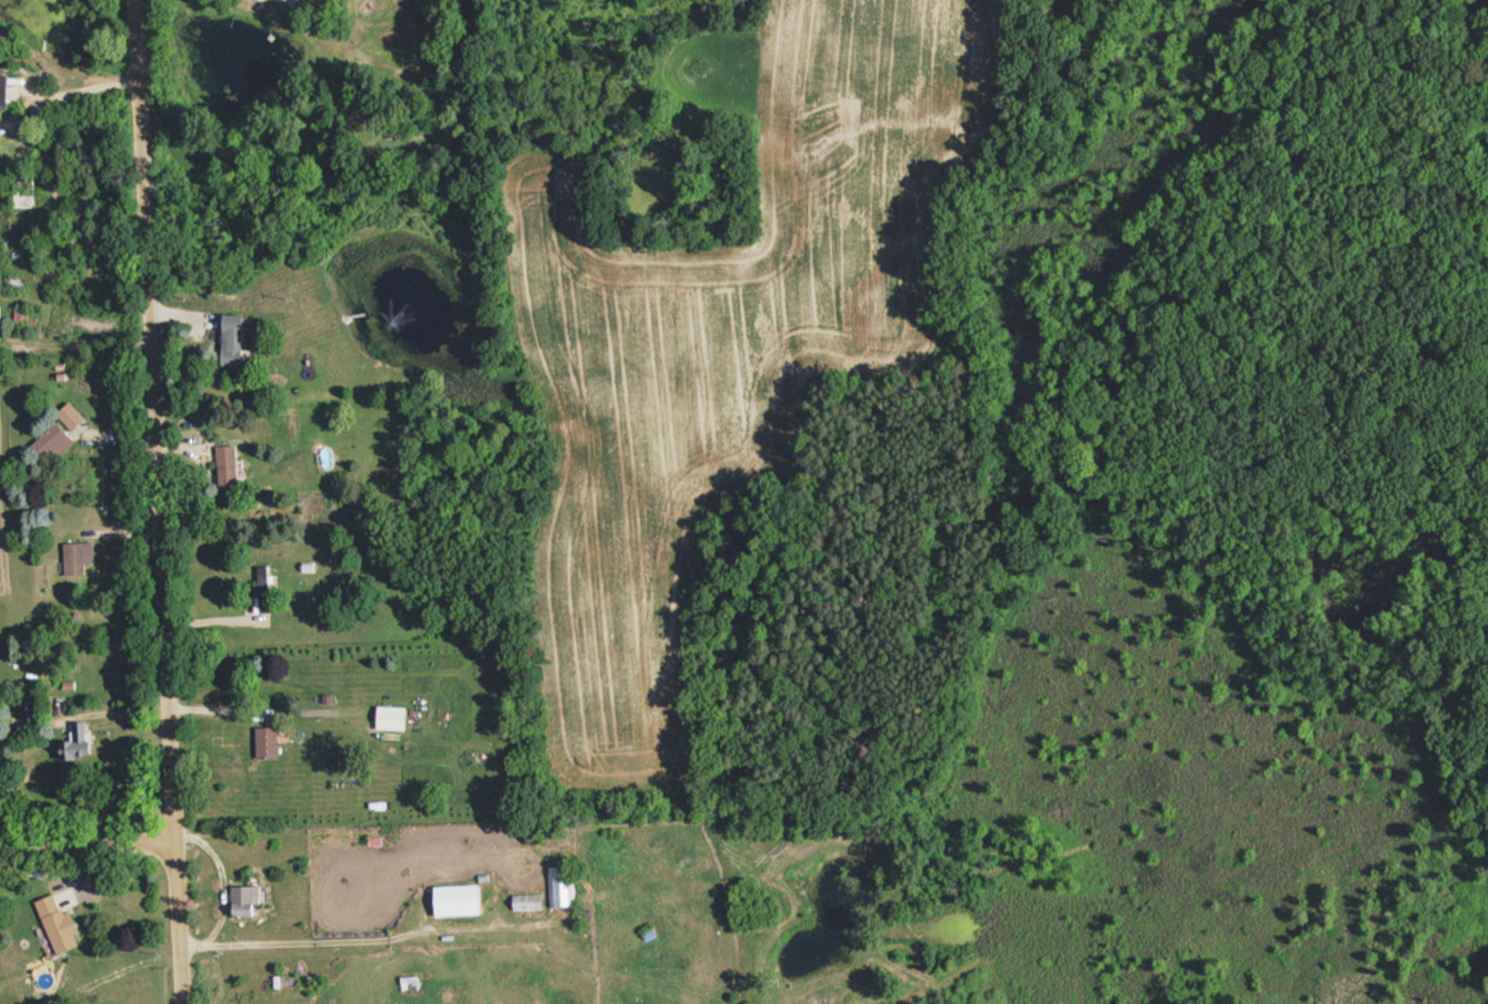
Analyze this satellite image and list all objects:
road: (83, 84)
building: (2, 90)
building: (228, 338)
building: (71, 417)
building: (50, 442)
building: (224, 467)
road: (159, 502)
building: (76, 555)
building: (307, 565)
building: (264, 588)
building: (389, 716)
building: (73, 741)
building: (264, 741)
road: (87, 840)
road: (222, 880)
building: (560, 885)
building: (242, 899)
building: (453, 899)
building: (524, 901)
building: (55, 922)
road: (369, 942)
building: (406, 982)

